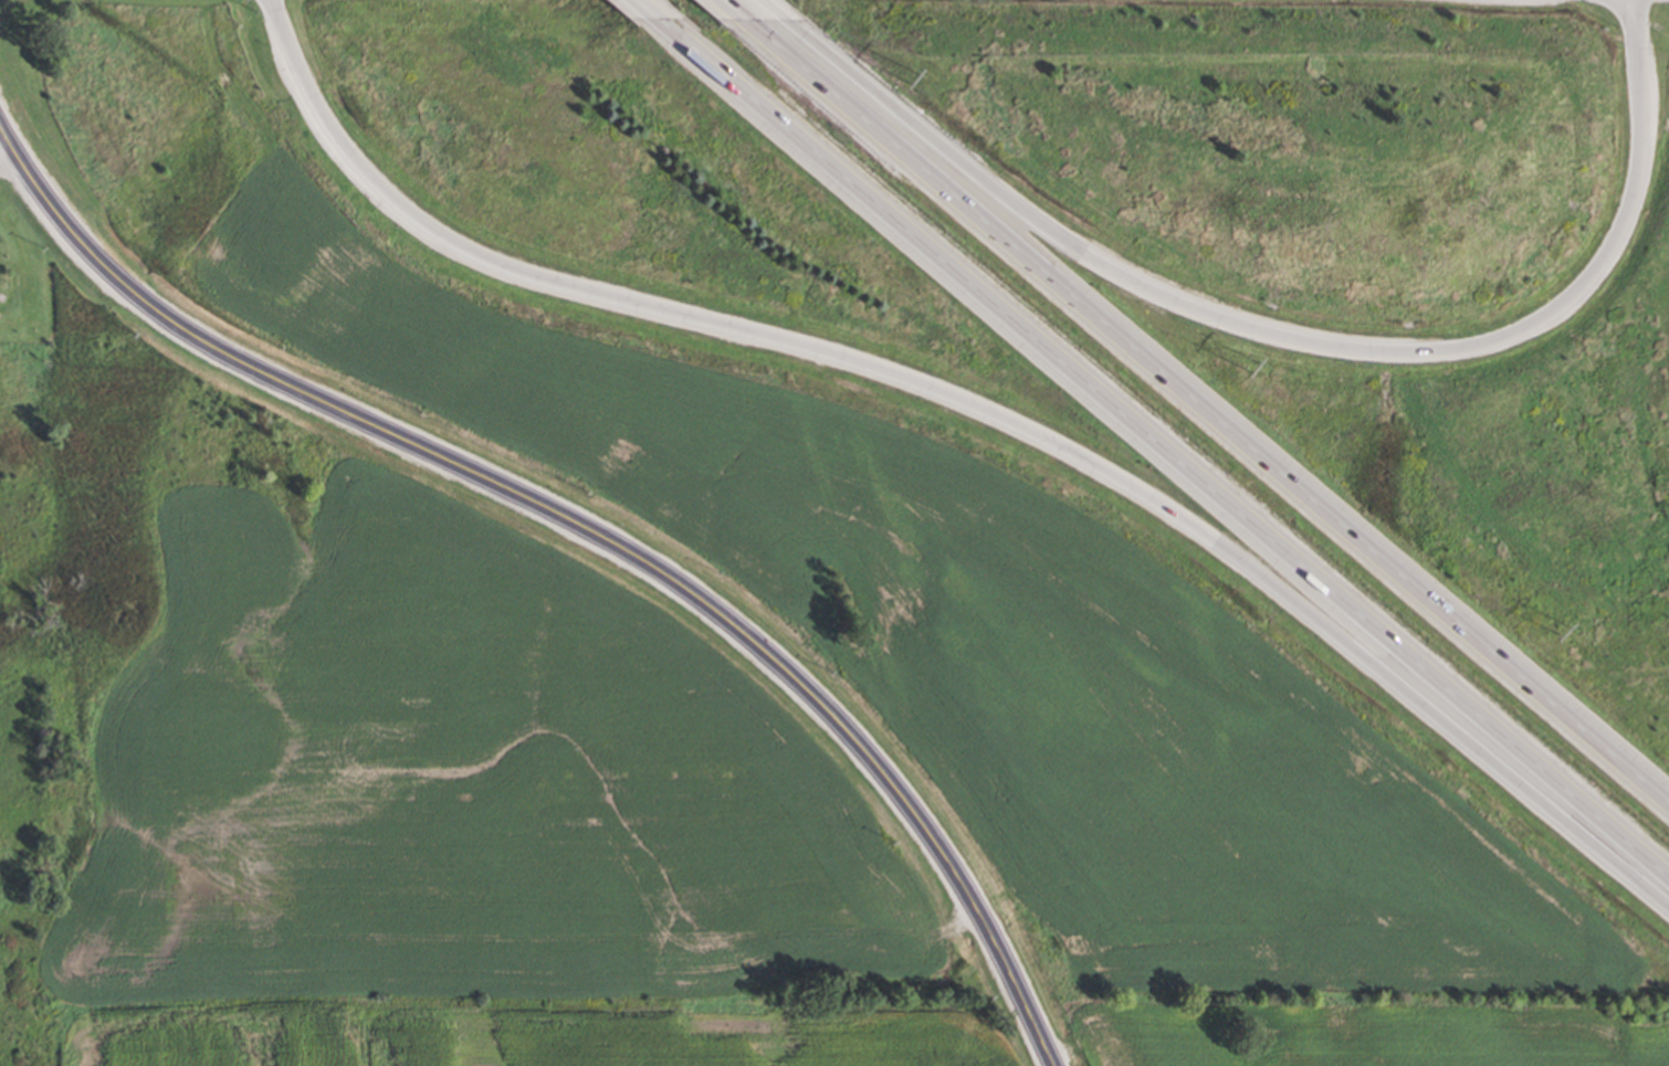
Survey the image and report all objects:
road: (736, 7)
road: (648, 8)
road: (777, 8)
power tower: (916, 80)
road: (6, 152)
road: (1300, 335)
power tower: (1249, 366)
road: (1207, 403)
road: (975, 404)
road: (1162, 446)
road: (589, 529)
power tower: (1567, 624)

